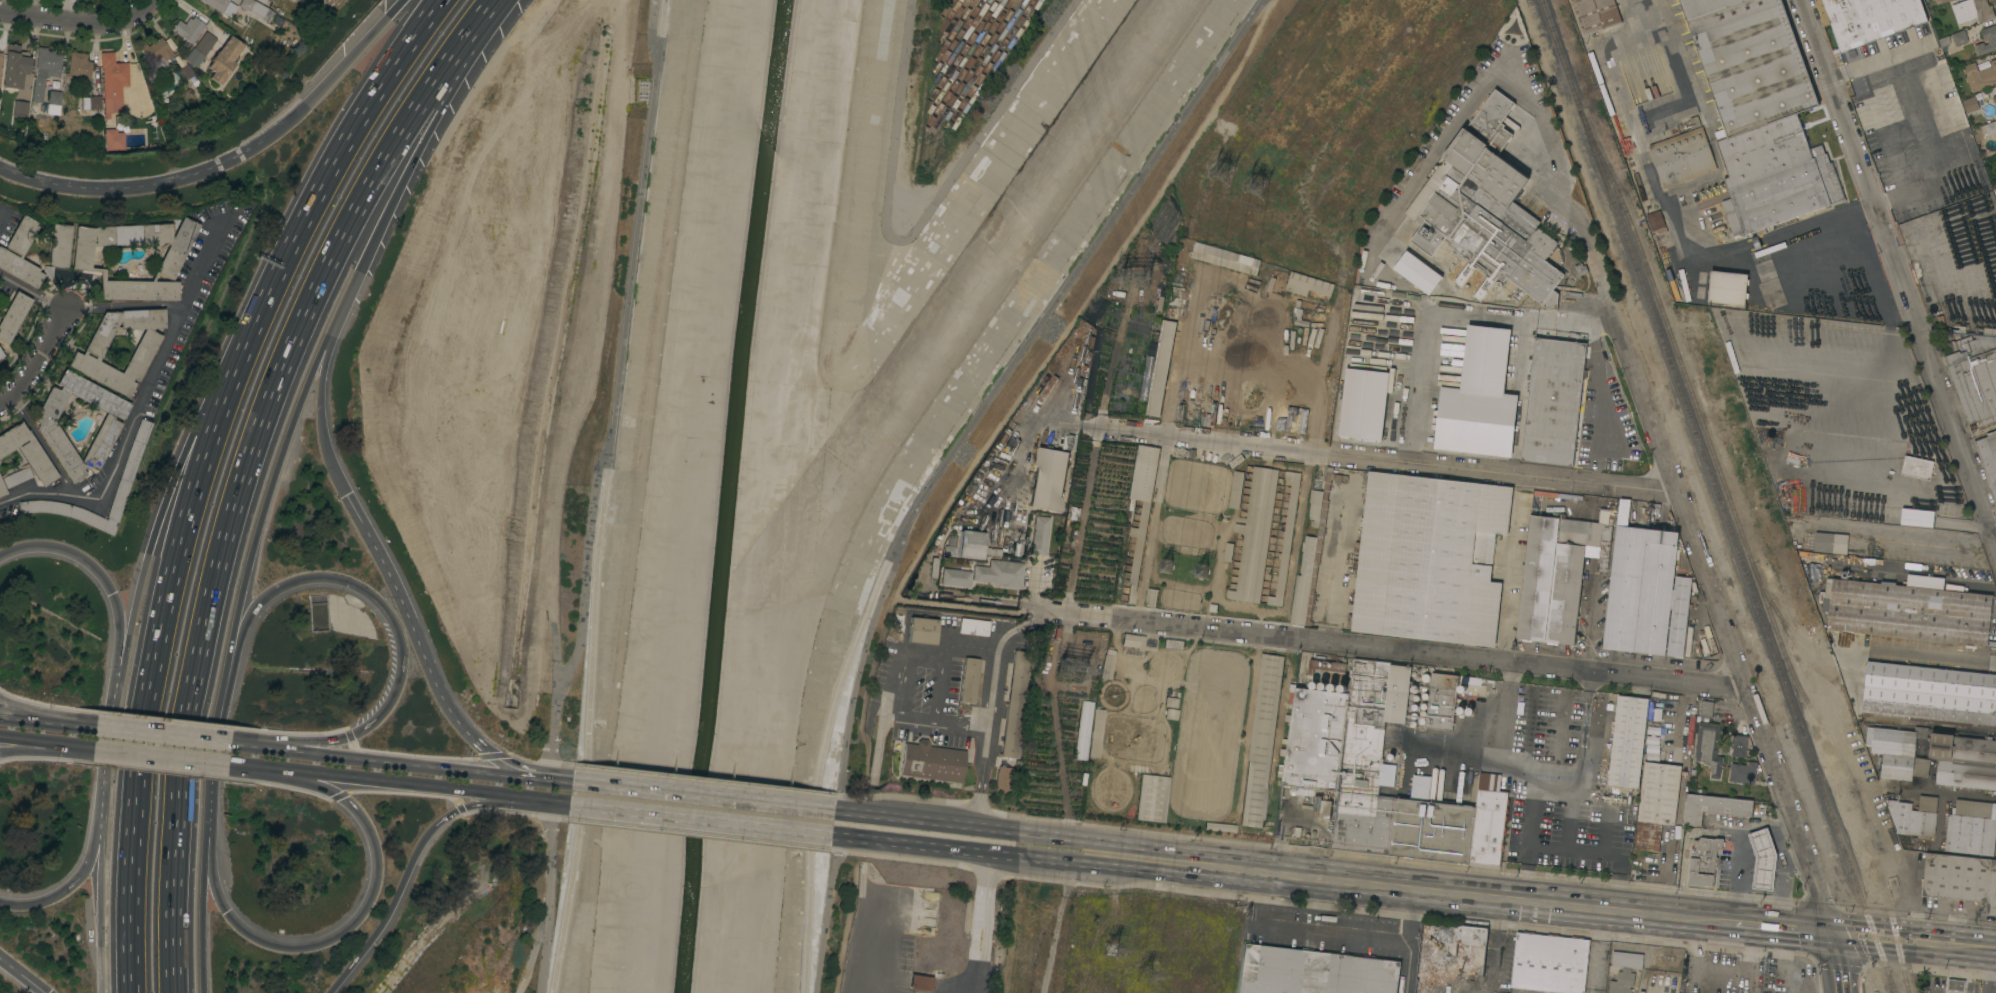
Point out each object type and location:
building: (1945, 0)
building: (262, 1)
building: (221, 6)
road: (145, 9)
building: (257, 9)
building: (1973, 10)
building: (1597, 14)
building: (1870, 19)
building: (277, 21)
road: (64, 22)
building: (189, 30)
building: (1960, 36)
building: (1987, 40)
building: (205, 43)
building: (159, 51)
railway: (1559, 53)
building: (194, 57)
building: (0, 58)
building: (223, 59)
road: (1873, 60)
building: (79, 65)
building: (14, 66)
building: (185, 71)
road: (333, 71)
building: (44, 72)
building: (112, 76)
building: (1980, 76)
building: (1994, 99)
building: (90, 102)
building: (52, 103)
building: (1970, 104)
building: (20, 109)
building: (1761, 112)
building: (1989, 128)
building: (113, 140)
road: (422, 140)
road: (1894, 143)
road: (1439, 151)
building: (1682, 156)
road: (333, 169)
power tower: (1221, 174)
road: (134, 185)
power tower: (1256, 187)
building: (1485, 210)
building: (1655, 220)
road: (1814, 220)
road: (635, 221)
building: (1698, 222)
road: (1673, 231)
building: (58, 250)
building: (173, 256)
building: (1210, 258)
road: (201, 265)
building: (1417, 272)
road: (1071, 273)
road: (1899, 273)
power tower: (1133, 280)
building: (1768, 280)
building: (1307, 284)
building: (1727, 287)
road: (32, 292)
road: (1083, 300)
road: (124, 304)
building: (13, 315)
road: (1606, 316)
building: (1988, 332)
road: (1892, 343)
building: (1164, 351)
building: (142, 353)
building: (0, 355)
road: (37, 357)
river: (926, 358)
road: (280, 365)
building: (1974, 376)
building: (1431, 387)
road: (319, 392)
building: (1484, 393)
road: (1599, 400)
building: (1552, 402)
building: (1362, 404)
road: (1514, 413)
building: (1586, 416)
building: (109, 425)
water tower: (1768, 441)
road: (41, 444)
road: (1683, 448)
road: (120, 449)
building: (27, 451)
building: (1926, 454)
building: (1988, 457)
road: (1379, 460)
building: (1917, 467)
building: (13, 478)
building: (1049, 478)
building: (118, 484)
building: (1236, 489)
river: (727, 495)
road: (266, 496)
railway: (1706, 496)
building: (1315, 505)
building: (45, 506)
road: (162, 515)
road: (195, 516)
building: (1144, 518)
building: (1915, 518)
building: (1040, 534)
building: (1255, 535)
building: (1601, 535)
building: (1286, 538)
building: (1319, 538)
railway: (1732, 538)
road: (1994, 538)
building: (1830, 542)
building: (971, 544)
building: (1228, 551)
building: (1307, 555)
building: (1429, 559)
power tower: (1166, 567)
road: (1513, 567)
power tower: (1200, 572)
building: (1000, 573)
building: (956, 577)
road: (104, 579)
building: (1551, 580)
building: (1640, 590)
road: (372, 597)
building: (1151, 597)
building: (1300, 599)
road: (968, 606)
road: (580, 611)
building: (1908, 611)
building: (1679, 616)
road: (1724, 623)
building: (974, 626)
building: (923, 630)
building: (1133, 640)
road: (1396, 648)
road: (920, 650)
road: (422, 653)
power tower: (1068, 661)
building: (1107, 663)
road: (856, 678)
building: (969, 680)
parking lot: (916, 682)
road: (942, 687)
road: (867, 693)
building: (1930, 693)
building: (1441, 700)
building: (1170, 701)
building: (1014, 704)
road: (20, 706)
road: (989, 706)
building: (1706, 708)
building: (1171, 714)
road: (18, 716)
road: (587, 719)
road: (915, 721)
road: (67, 723)
road: (962, 727)
building: (1083, 730)
road: (148, 732)
parking lot: (931, 733)
building: (1096, 733)
road: (163, 735)
building: (1261, 739)
road: (47, 741)
building: (1627, 741)
road: (108, 743)
road: (46, 746)
building: (1739, 746)
building: (1708, 747)
road: (877, 749)
road: (215, 752)
building: (1899, 752)
road: (162, 755)
road: (343, 756)
building: (931, 761)
building: (1964, 761)
road: (820, 767)
road: (263, 768)
building: (1379, 770)
building: (1742, 772)
road: (499, 773)
road: (1542, 773)
road: (557, 779)
road: (695, 779)
building: (1002, 779)
road: (375, 781)
road: (1946, 793)
road: (501, 795)
road: (703, 796)
building: (1152, 797)
road: (1683, 800)
building: (1314, 802)
road: (559, 803)
building: (1656, 803)
building: (1714, 807)
road: (835, 810)
road: (1568, 812)
road: (98, 816)
building: (1914, 817)
road: (700, 820)
road: (991, 827)
building: (1220, 827)
road: (1605, 827)
building: (1971, 828)
road: (835, 836)
road: (1529, 837)
road: (987, 852)
road: (1603, 852)
building: (1763, 859)
building: (1641, 861)
building: (1703, 862)
road: (407, 865)
building: (1960, 878)
road: (174, 883)
road: (135, 885)
road: (1400, 888)
road: (201, 891)
road: (61, 892)
road: (100, 892)
road: (547, 897)
road: (824, 913)
road: (1682, 917)
road: (1711, 920)
road: (980, 923)
road: (845, 927)
road: (871, 927)
road: (1778, 927)
road: (1332, 938)
road: (320, 940)
road: (1410, 941)
road: (1913, 941)
road: (1496, 945)
power tower: (1117, 950)
road: (1594, 950)
parking lot: (877, 956)
building: (1451, 959)
road: (1756, 959)
building: (1627, 960)
road: (1837, 962)
building: (1550, 963)
road: (1699, 969)
road: (1990, 971)
building: (1312, 972)
road: (22, 975)
power tower: (1153, 975)
building: (1622, 982)
railway: (1889, 982)
building: (921, 983)
building: (1955, 984)
road: (1489, 992)

